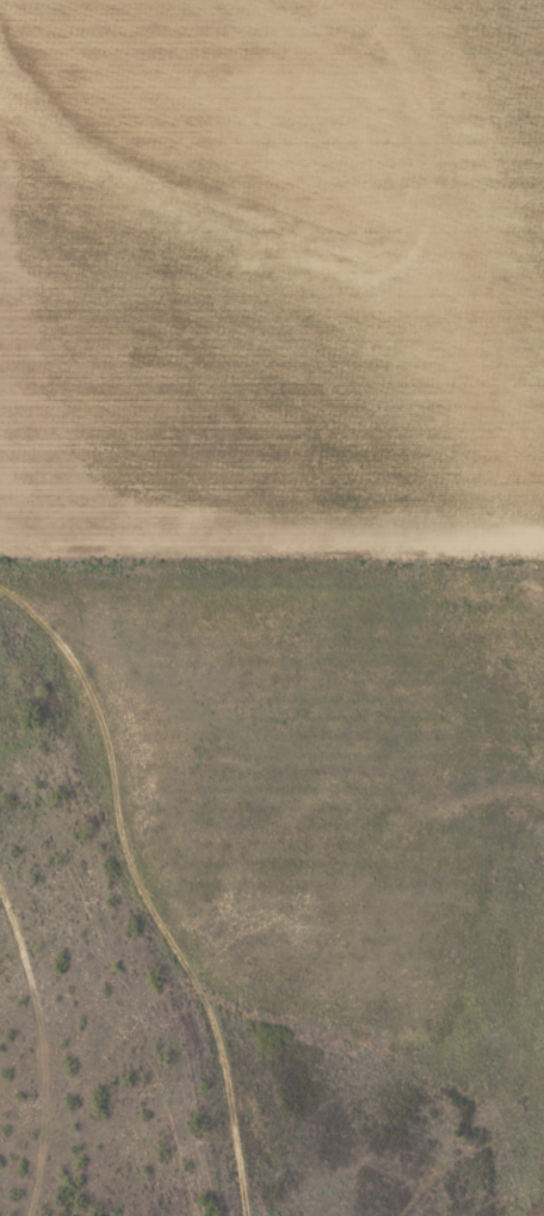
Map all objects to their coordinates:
road: (218, 835)

